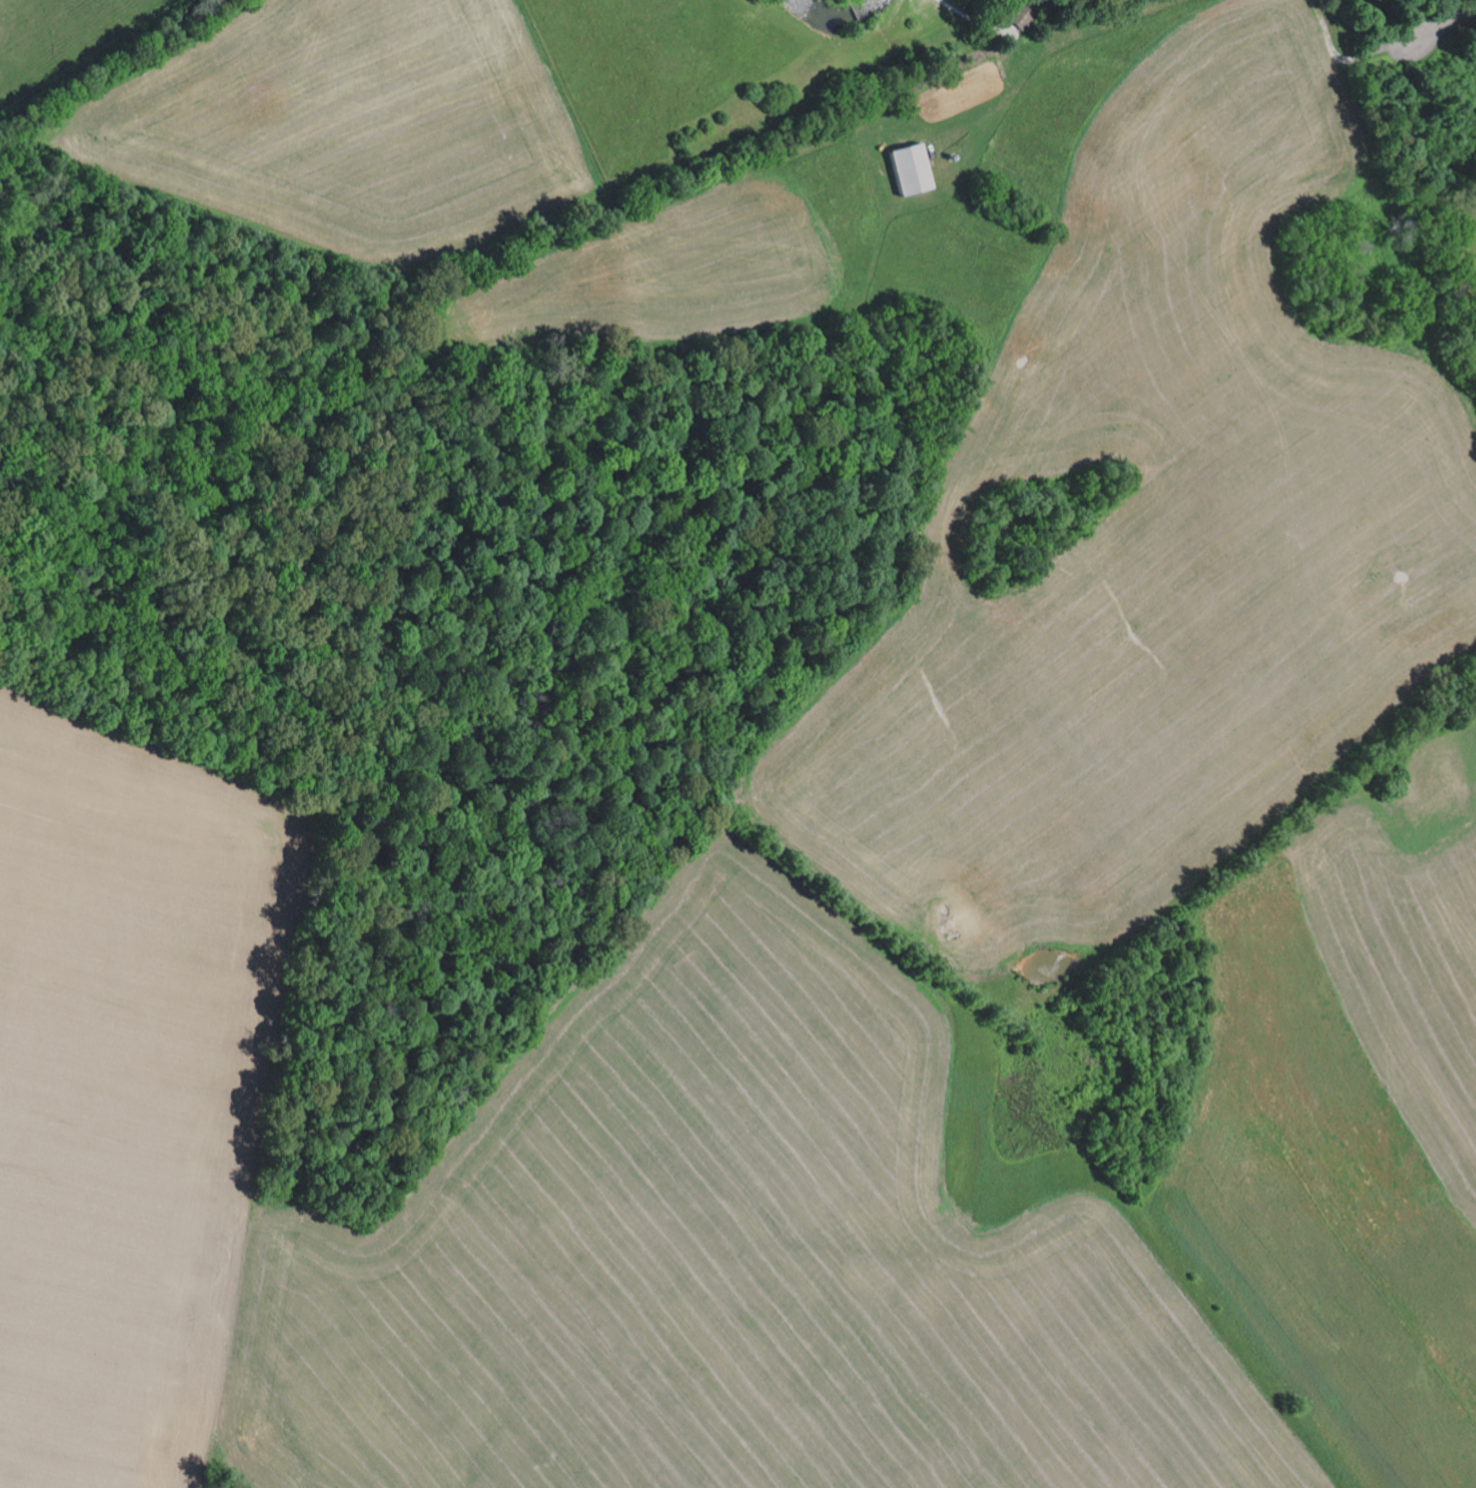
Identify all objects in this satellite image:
road: (1436, 23)
building: (908, 170)

